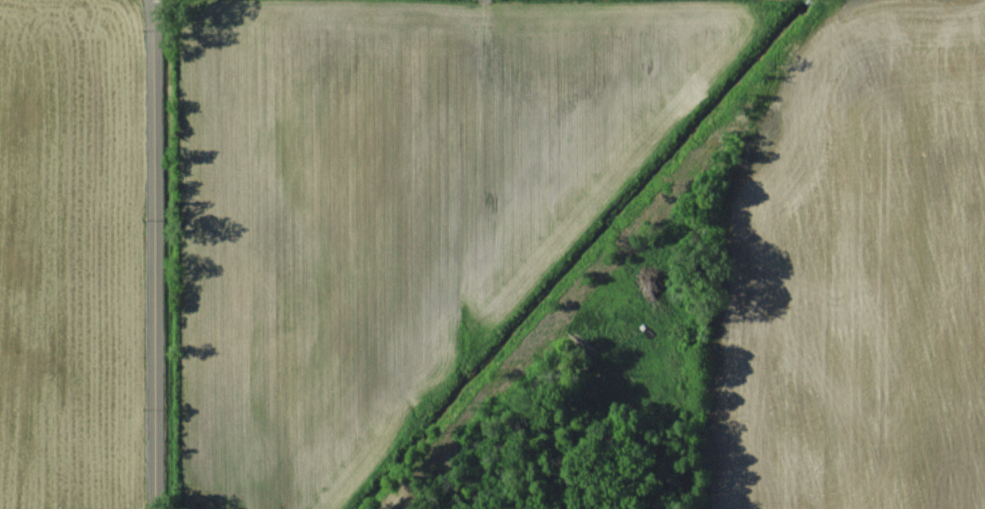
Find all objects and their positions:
road: (154, 254)

